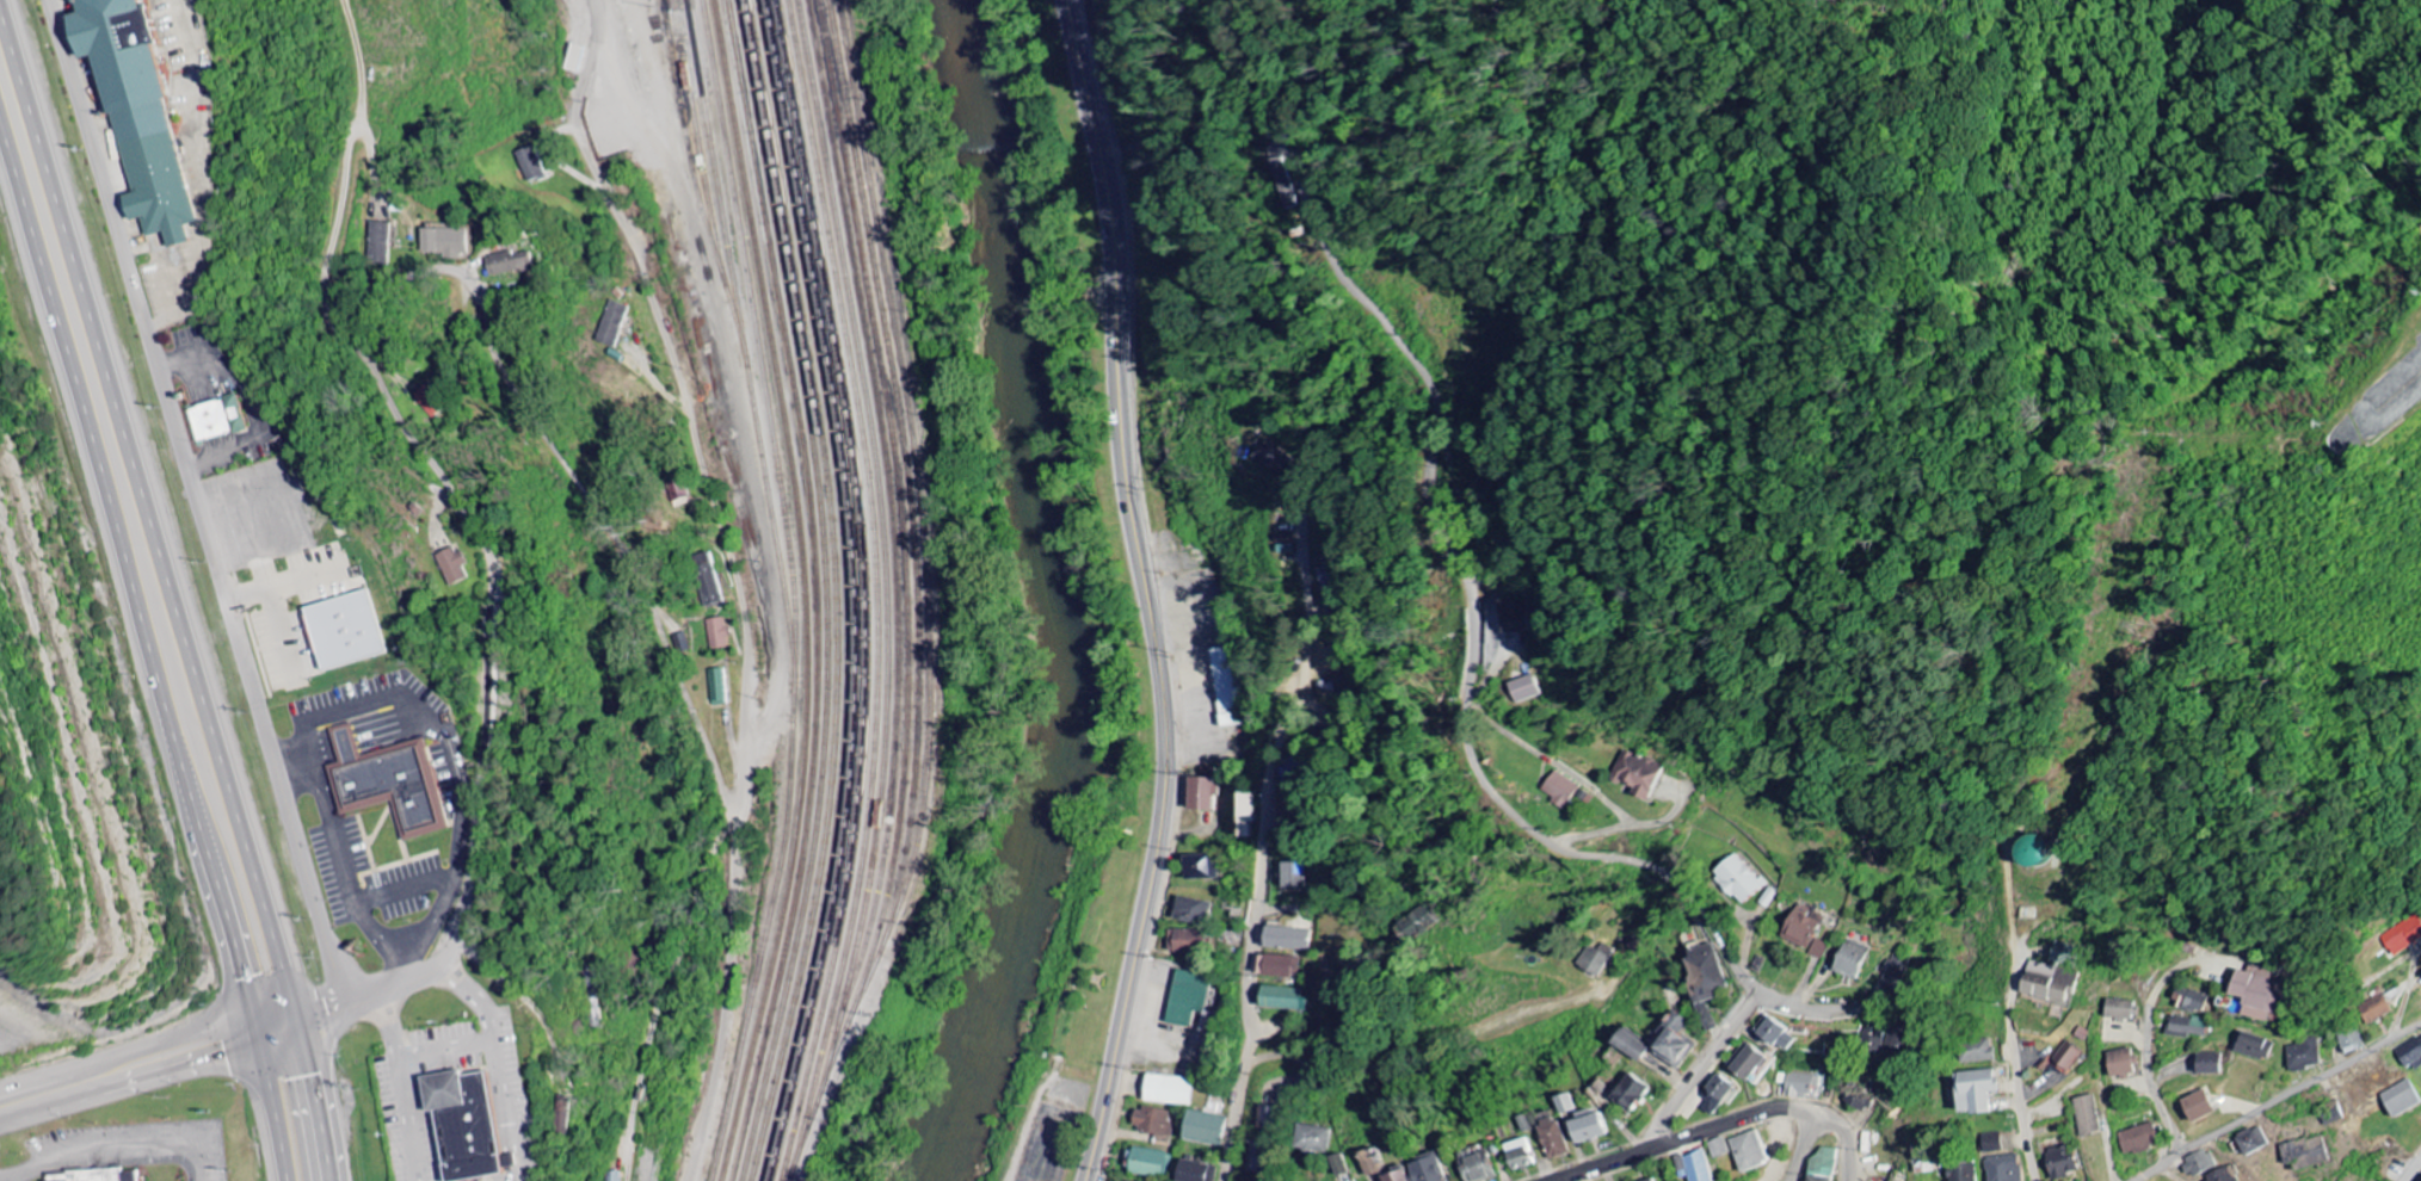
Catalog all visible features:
building: (574, 58)
building: (148, 110)
building: (528, 163)
building: (1285, 186)
building: (444, 242)
building: (377, 243)
building: (511, 266)
road: (444, 272)
building: (611, 324)
railway: (741, 357)
road: (682, 394)
building: (429, 402)
building: (216, 419)
building: (1270, 457)
road: (196, 505)
building: (454, 565)
road: (1462, 565)
building: (708, 580)
road: (177, 588)
railway: (790, 590)
railway: (800, 590)
railway: (812, 590)
road: (1147, 592)
river: (1073, 596)
railway: (926, 599)
building: (1513, 616)
building: (349, 630)
building: (717, 635)
building: (684, 644)
road: (152, 655)
building: (717, 687)
building: (1226, 687)
building: (1524, 690)
building: (1637, 774)
building: (387, 784)
building: (1560, 790)
building: (1201, 793)
building: (1245, 814)
road: (1259, 857)
building: (1201, 867)
building: (1294, 876)
building: (1737, 879)
building: (1190, 911)
building: (1421, 921)
building: (1801, 927)
building: (2402, 936)
building: (1285, 939)
building: (1184, 941)
building: (1819, 950)
building: (2060, 953)
building: (1849, 959)
building: (1594, 960)
building: (1279, 966)
building: (1705, 978)
building: (1893, 978)
building: (2049, 983)
building: (2260, 994)
building: (1187, 997)
building: (1280, 998)
building: (2191, 1001)
building: (2119, 1009)
building: (2376, 1009)
building: (2187, 1027)
building: (1778, 1035)
building: (2352, 1040)
building: (1674, 1041)
building: (1874, 1041)
building: (1628, 1045)
building: (2254, 1046)
road: (149, 1051)
building: (1978, 1051)
building: (2410, 1052)
building: (2304, 1056)
building: (2066, 1057)
building: (1747, 1062)
building: (2120, 1063)
building: (2207, 1063)
road: (1705, 1065)
road: (1079, 1069)
road: (2019, 1072)
building: (1801, 1086)
road: (2152, 1089)
road: (155, 1090)
building: (1169, 1090)
building: (1975, 1092)
building: (1628, 1093)
building: (1715, 1094)
building: (2398, 1099)
road: (2278, 1100)
building: (2197, 1106)
road: (1813, 1108)
building: (2088, 1115)
building: (1270, 1118)
building: (563, 1119)
building: (468, 1120)
road: (1030, 1120)
building: (1581, 1121)
building: (1152, 1124)
building: (1528, 1124)
road: (1085, 1127)
building: (1203, 1129)
building: (1552, 1136)
parking lot: (1048, 1137)
building: (2137, 1139)
building: (1316, 1140)
building: (2251, 1140)
building: (1992, 1143)
road: (118, 1144)
road: (1809, 1145)
building: (1718, 1148)
road: (1637, 1150)
building: (1748, 1151)
building: (1520, 1155)
building: (512, 1157)
building: (1262, 1157)
building: (1150, 1163)
building: (1368, 1163)
building: (2062, 1163)
building: (1342, 1165)
building: (1476, 1165)
building: (1822, 1165)
building: (1693, 1167)
building: (2003, 1168)
building: (1425, 1169)
road: (2413, 1170)
building: (1193, 1171)
building: (1963, 1173)
building: (92, 1176)
building: (614, 1176)
building: (1393, 1176)
building: (1649, 1180)

